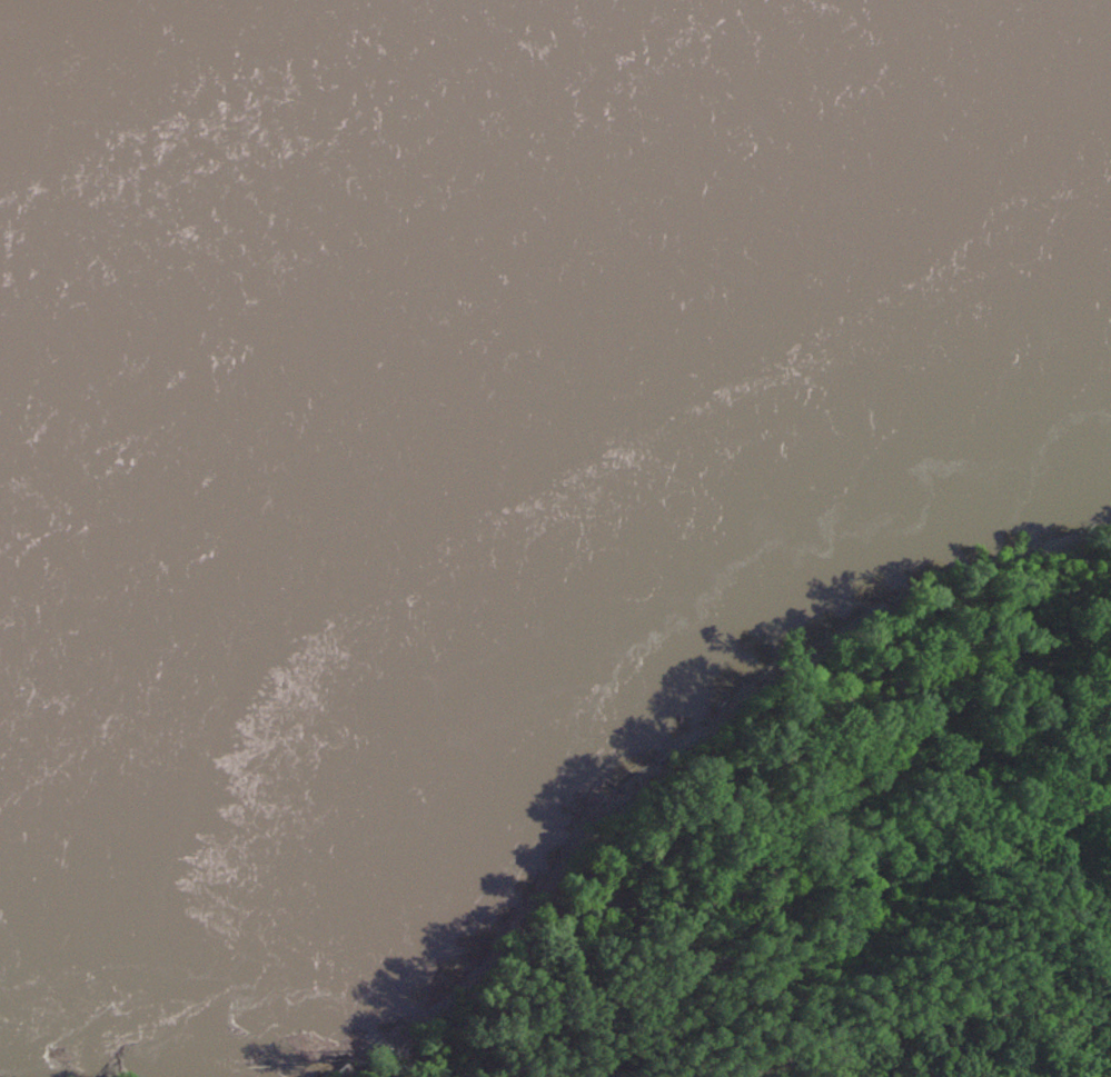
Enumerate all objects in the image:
river: (634, 109)
river: (555, 271)

